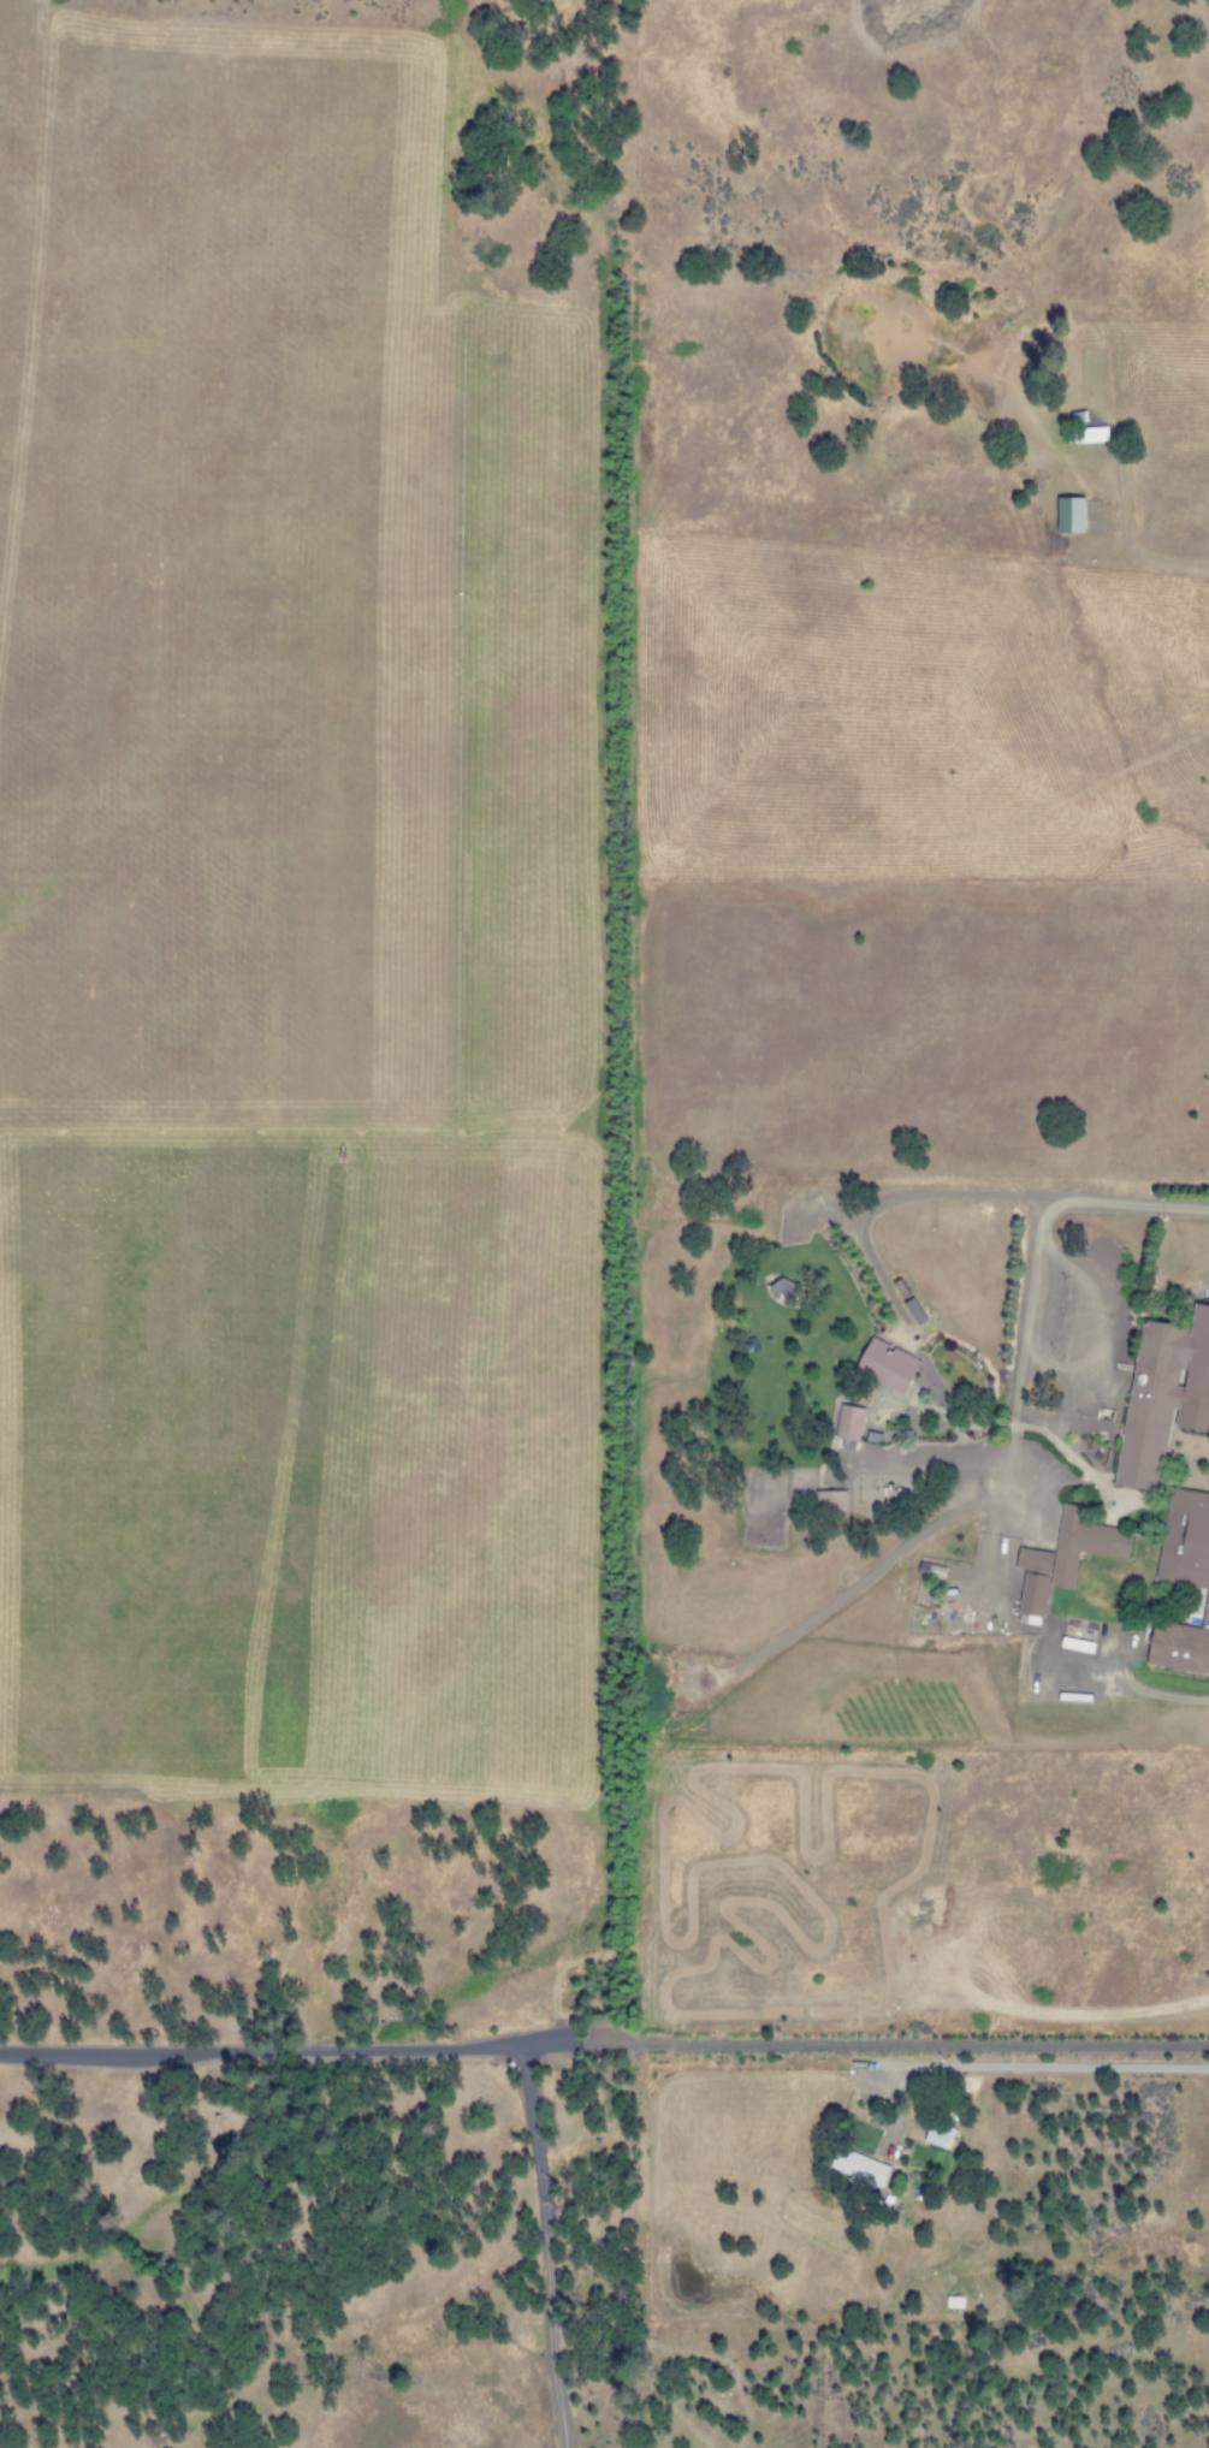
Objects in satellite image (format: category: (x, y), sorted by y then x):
building: (1092, 435)
building: (1068, 515)
road: (1029, 1281)
building: (885, 1364)
building: (1163, 1392)
building: (848, 1423)
building: (830, 1500)
building: (1065, 1557)
building: (1184, 1579)
road: (1130, 1689)
road: (604, 2043)
road: (1003, 2064)
building: (938, 2135)
building: (858, 2167)
road: (543, 2246)

